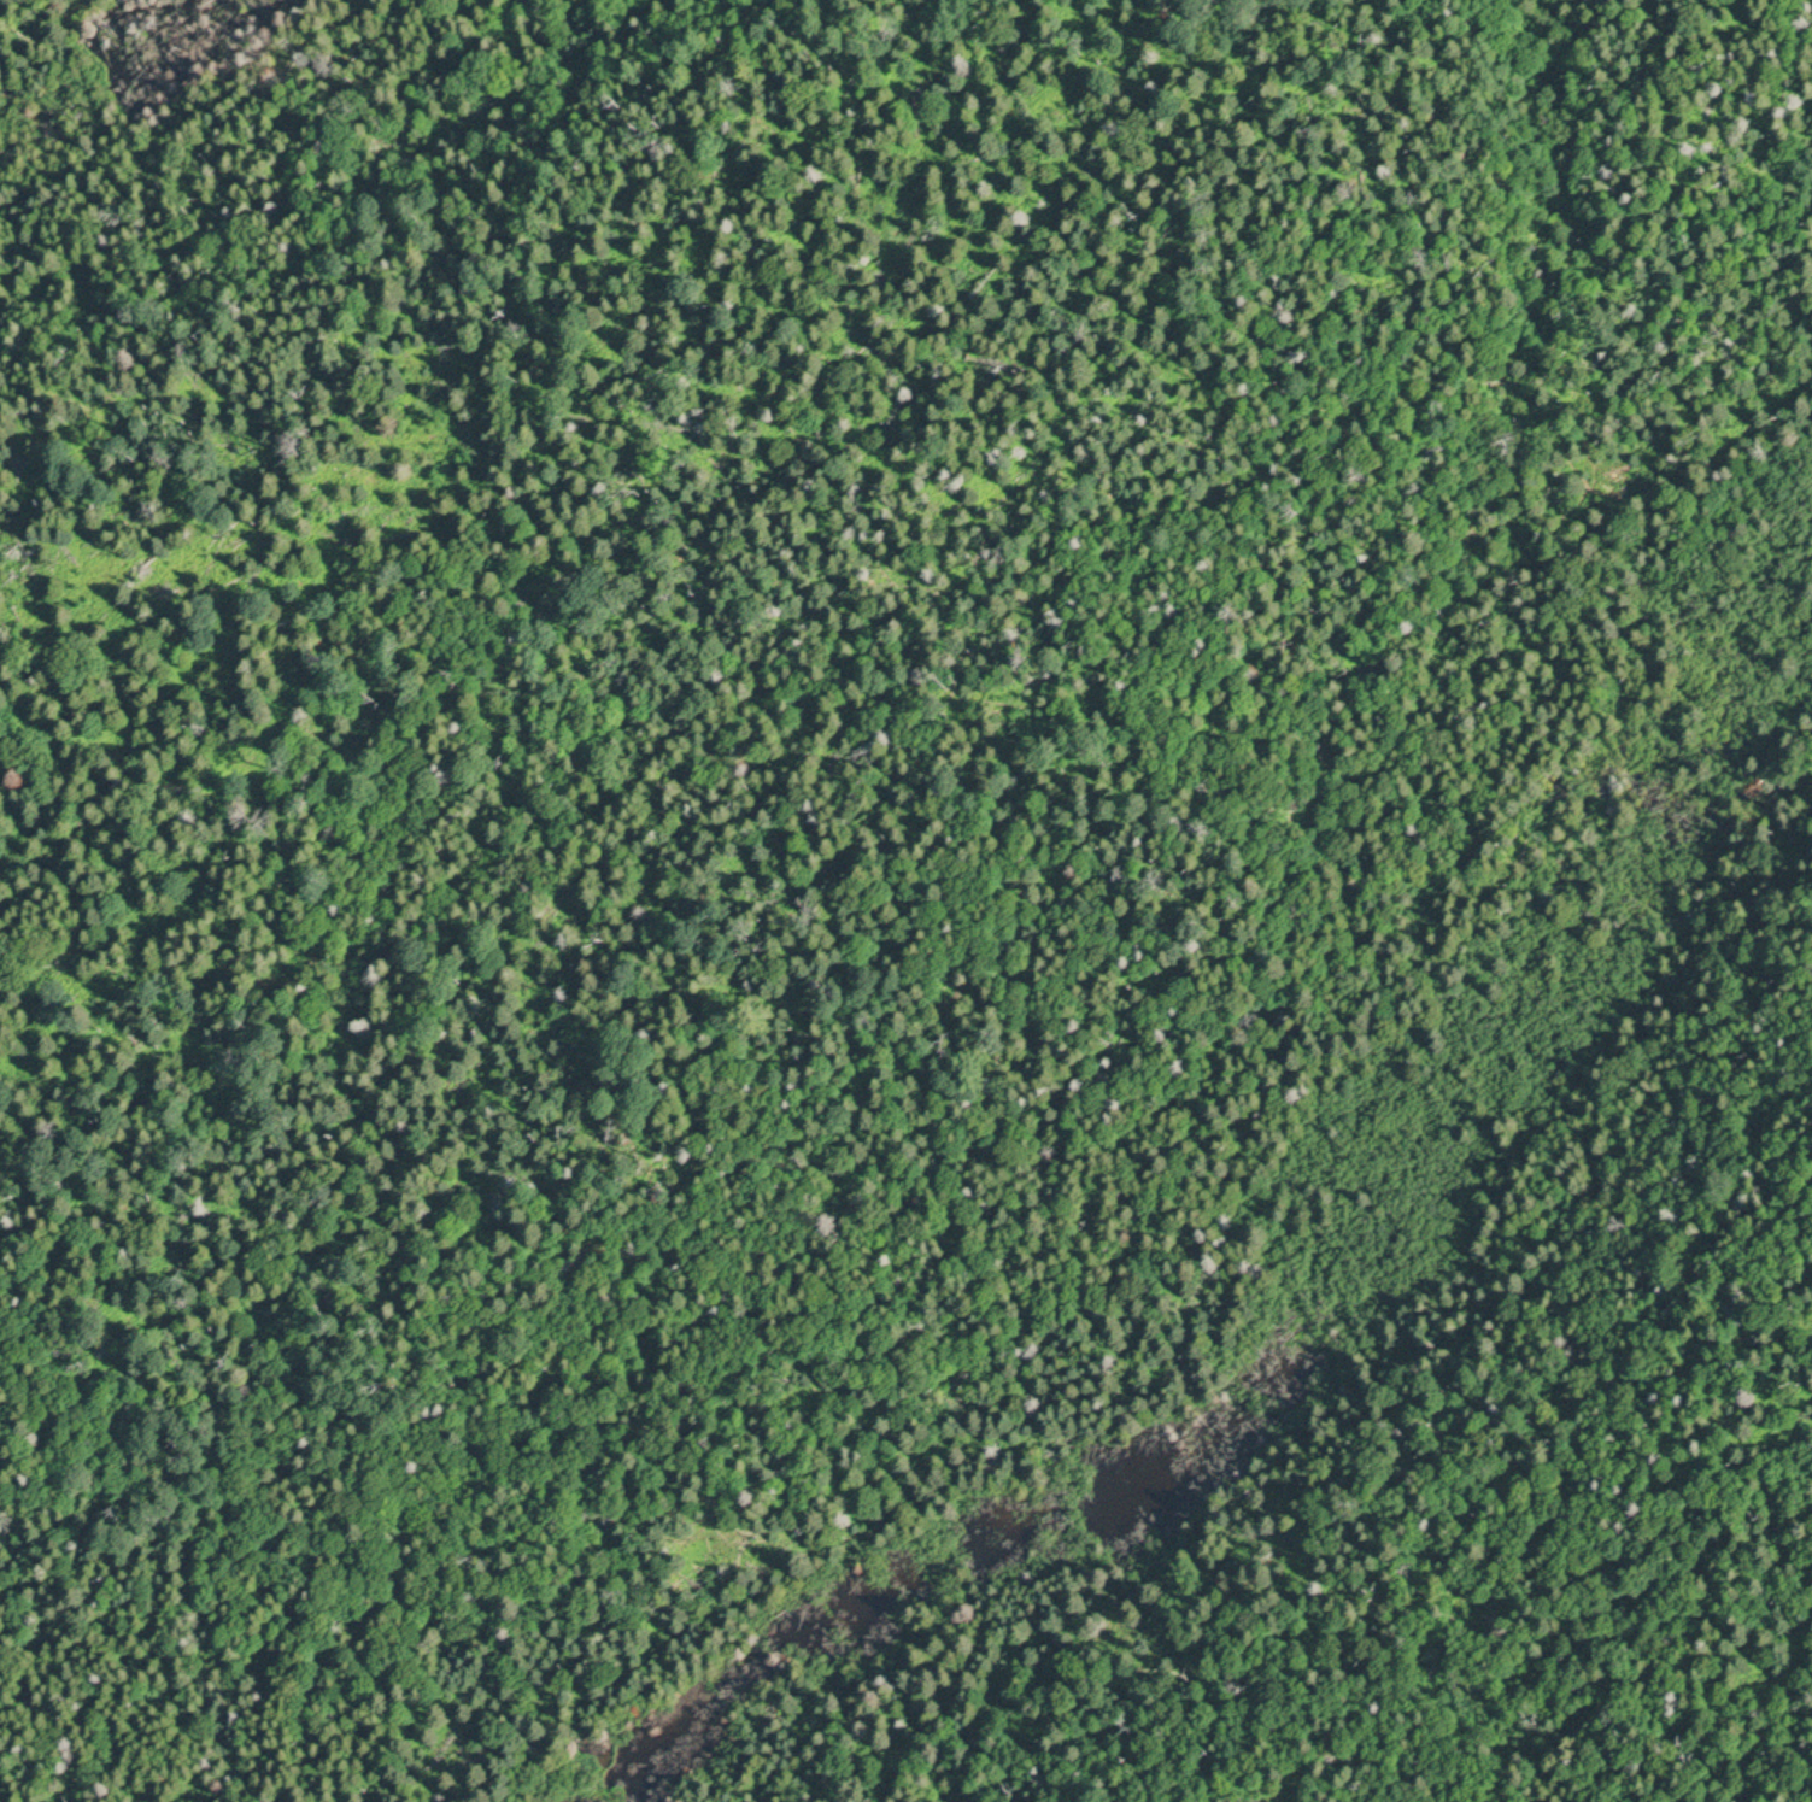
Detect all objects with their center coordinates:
road: (1558, 366)

